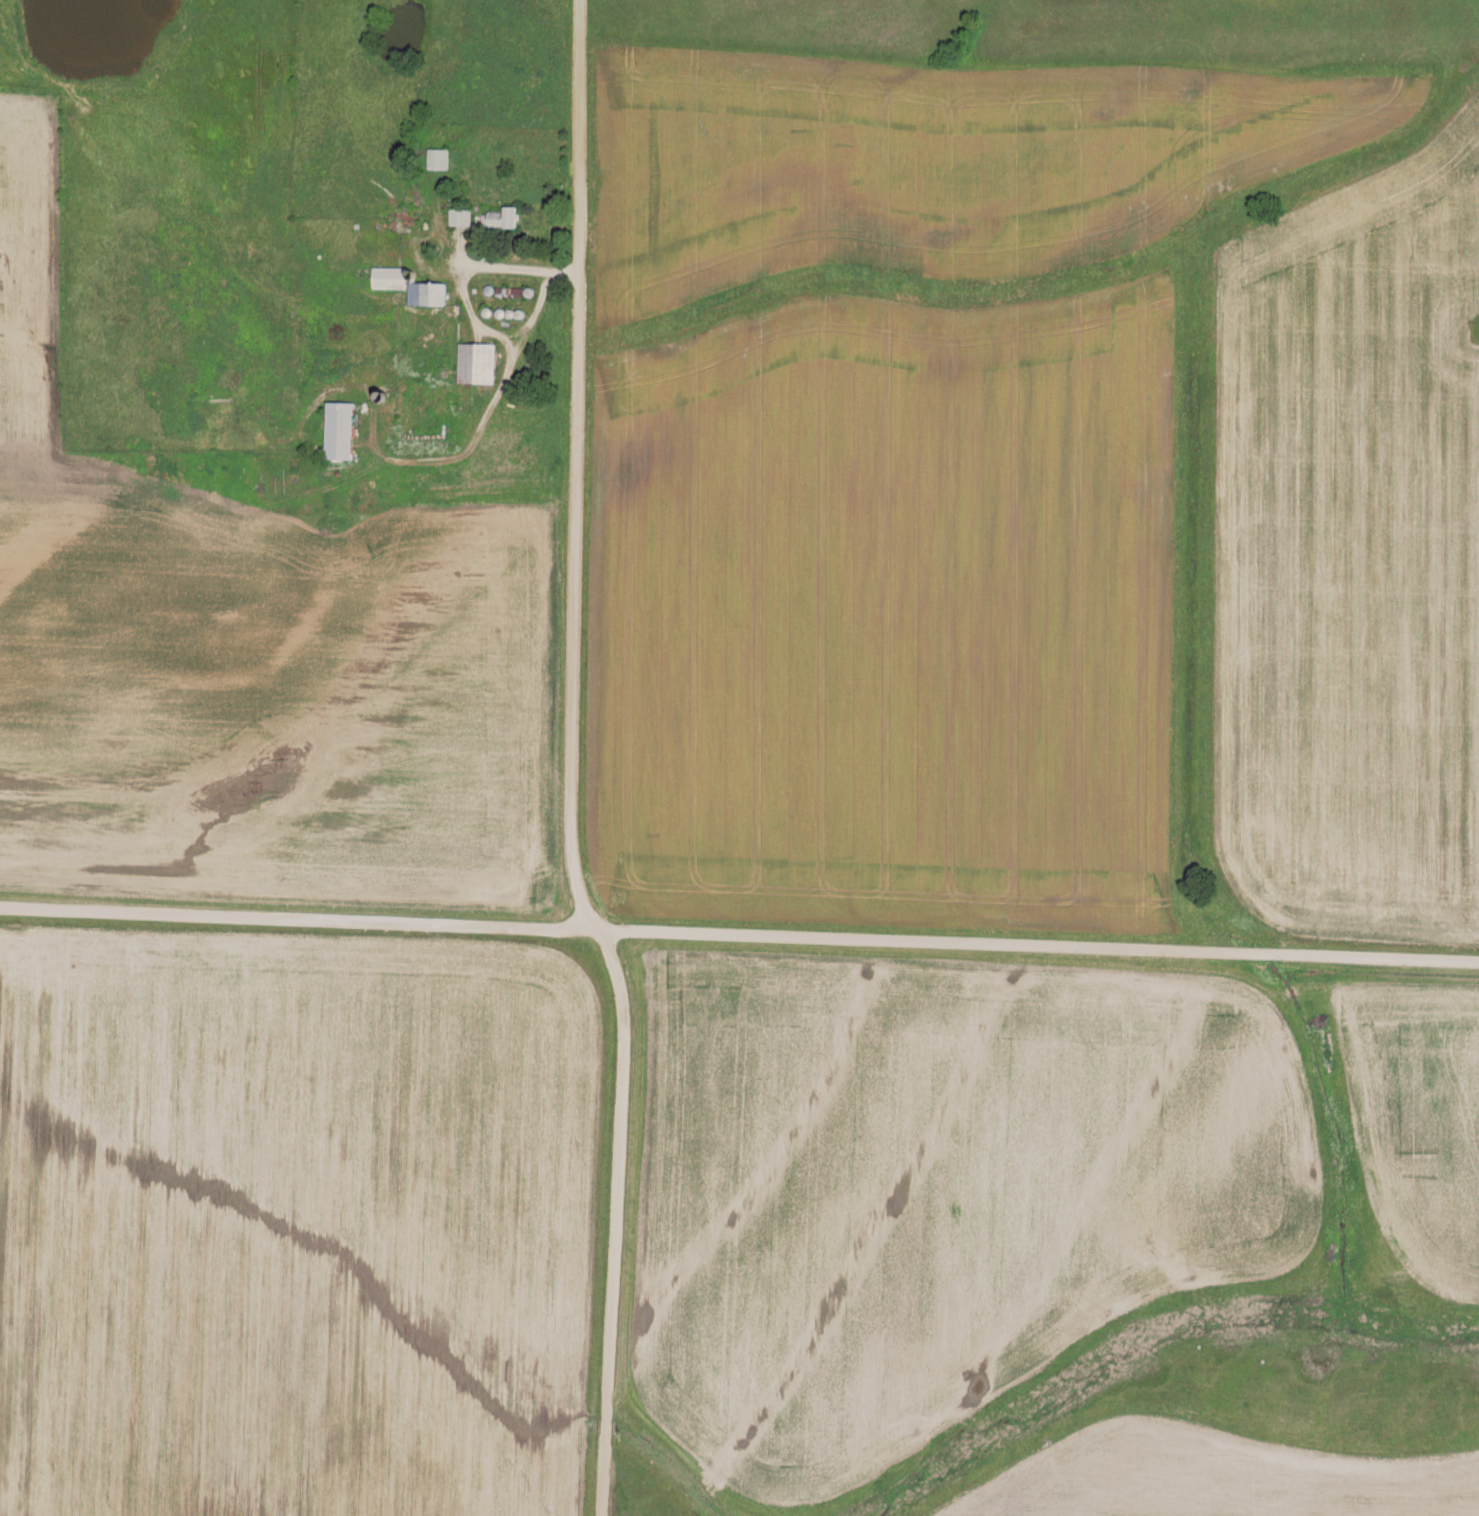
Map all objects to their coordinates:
building: (438, 156)
building: (462, 214)
building: (502, 216)
road: (468, 268)
building: (414, 284)
building: (479, 361)
road: (484, 424)
building: (342, 428)
road: (571, 763)
road: (739, 933)

